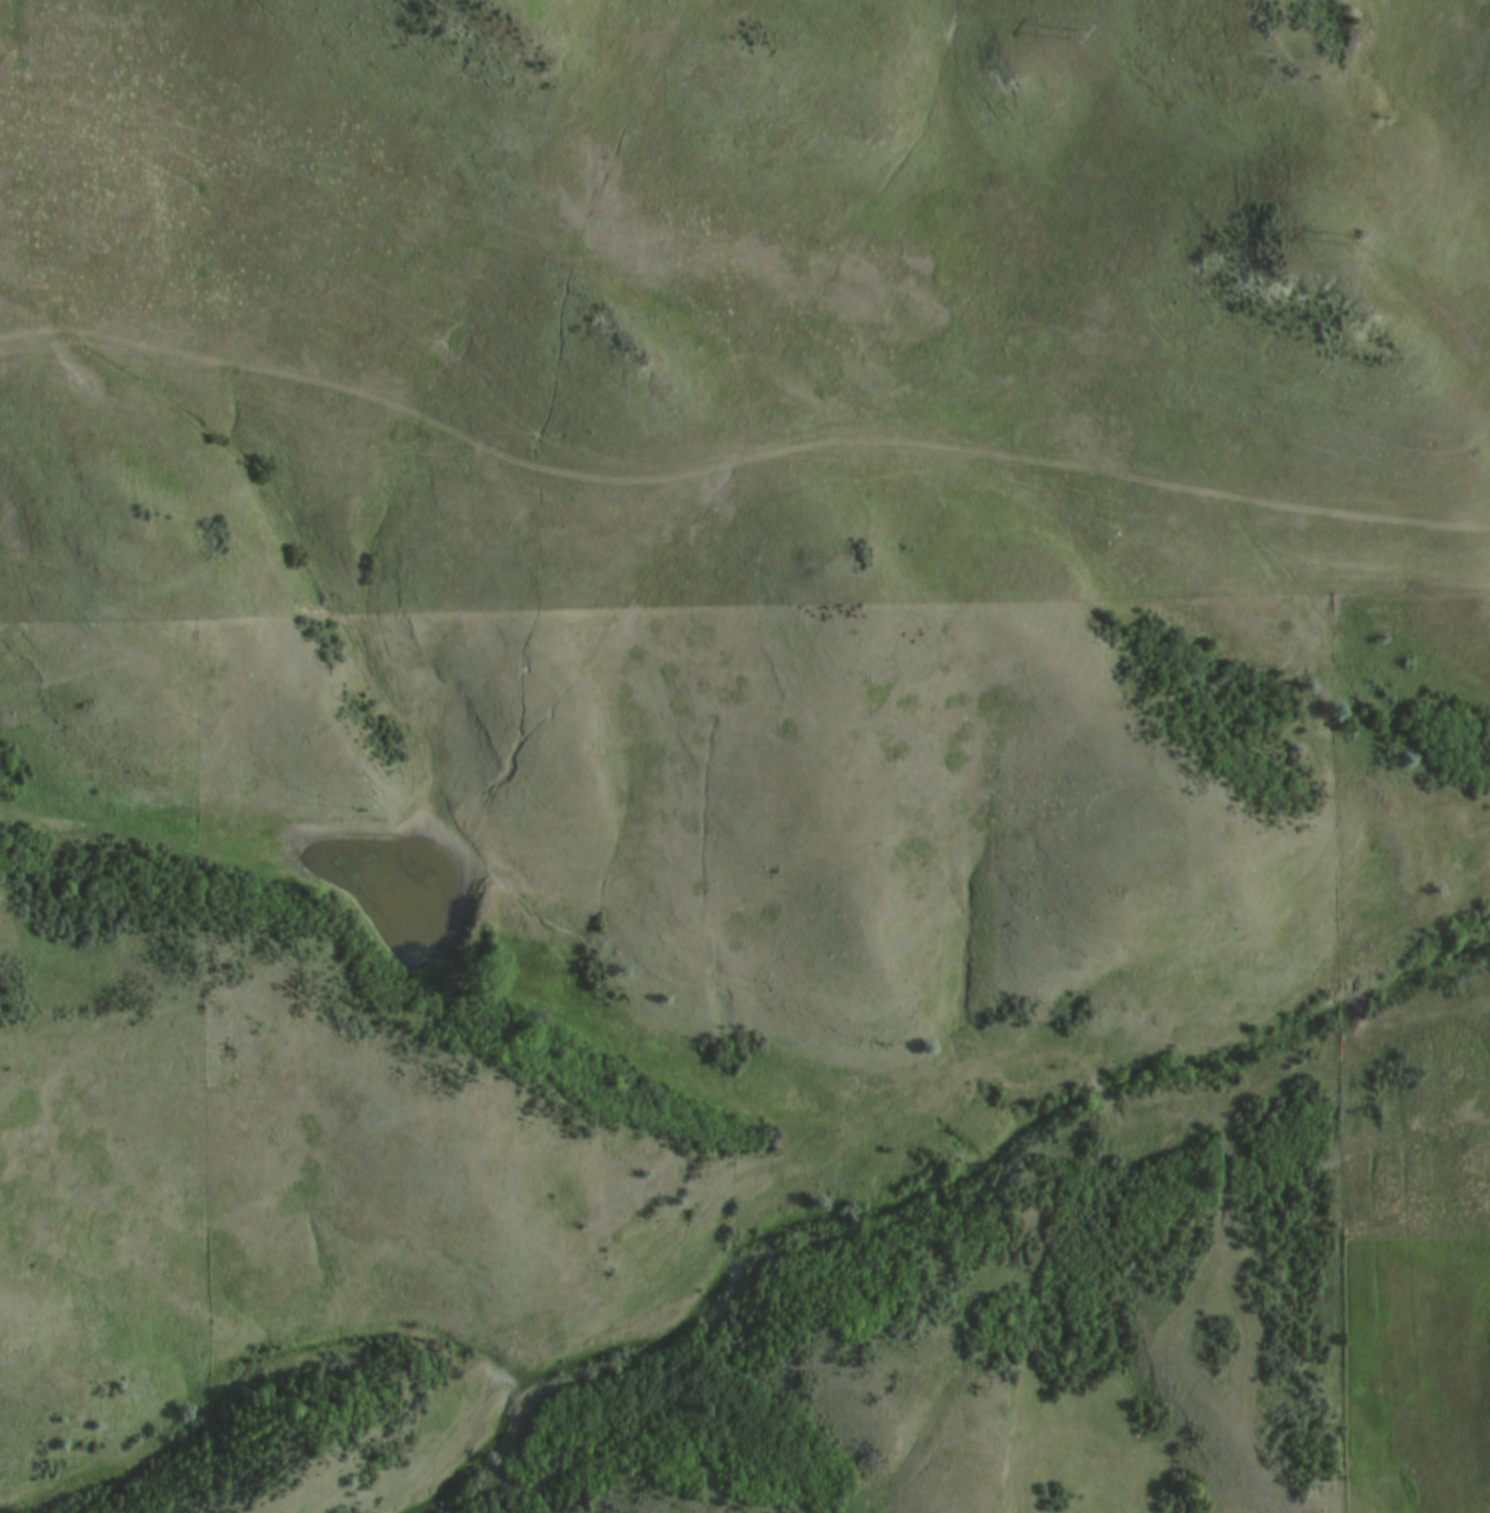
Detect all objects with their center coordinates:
power tower: (1074, 34)
power tower: (1350, 241)
road: (732, 463)

